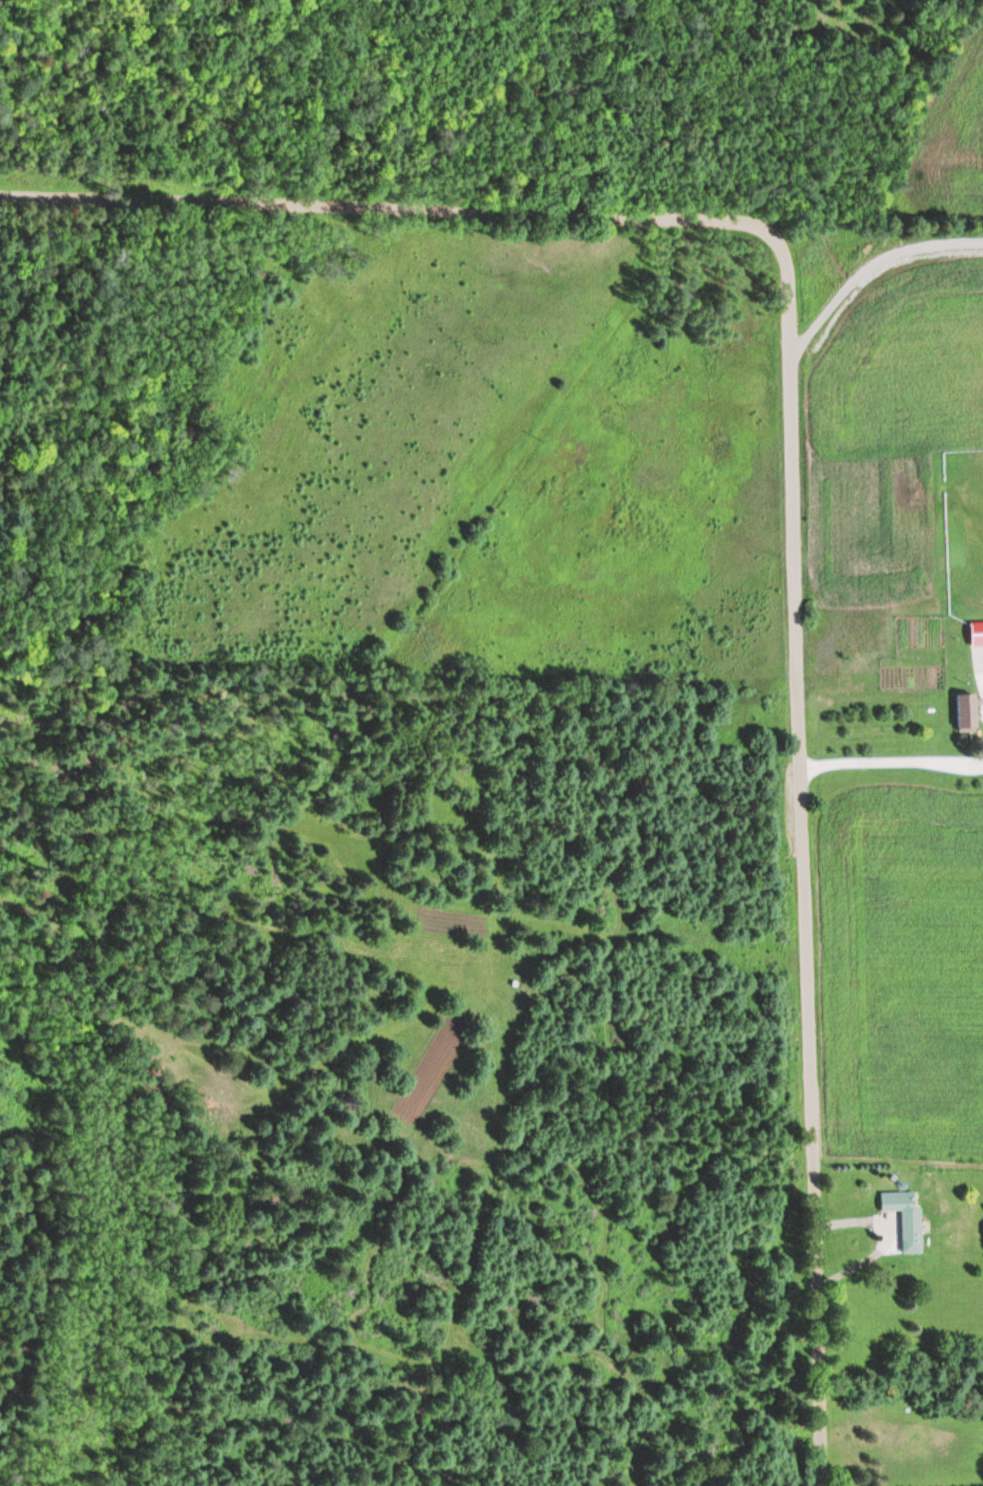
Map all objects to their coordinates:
road: (794, 470)
building: (975, 663)
building: (964, 712)
building: (903, 1218)

